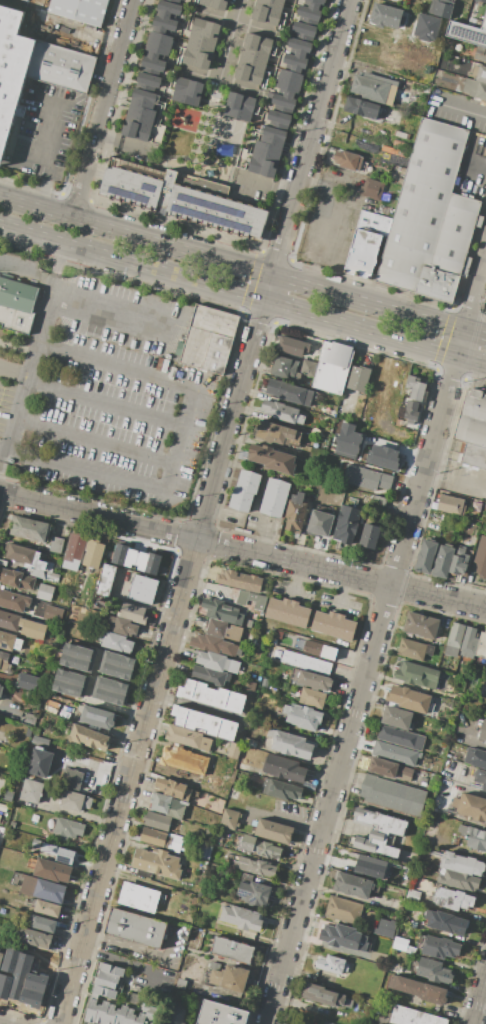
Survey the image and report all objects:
building: (26, 0)
building: (179, 0)
building: (400, 0)
building: (430, 0)
building: (173, 1)
building: (279, 1)
building: (480, 2)
building: (315, 3)
building: (214, 4)
building: (167, 9)
building: (440, 9)
building: (79, 11)
building: (267, 11)
building: (308, 15)
building: (386, 16)
road: (236, 22)
building: (163, 25)
building: (425, 27)
road: (72, 29)
building: (303, 31)
building: (204, 32)
building: (467, 32)
road: (231, 40)
building: (158, 45)
building: (257, 47)
building: (299, 47)
building: (479, 53)
building: (198, 55)
building: (295, 62)
building: (61, 66)
building: (152, 66)
building: (12, 70)
building: (250, 70)
building: (479, 73)
road: (220, 81)
building: (147, 82)
building: (288, 83)
building: (374, 87)
building: (475, 89)
building: (187, 91)
building: (282, 103)
building: (239, 106)
building: (360, 108)
road: (104, 109)
building: (140, 115)
building: (278, 119)
road: (79, 126)
road: (49, 141)
road: (125, 144)
building: (267, 152)
building: (347, 160)
road: (267, 185)
building: (371, 189)
road: (45, 194)
road: (75, 196)
building: (183, 201)
building: (431, 218)
road: (333, 220)
road: (199, 232)
building: (366, 243)
road: (295, 261)
road: (255, 265)
road: (243, 266)
road: (28, 268)
road: (242, 294)
building: (16, 305)
road: (108, 309)
road: (484, 311)
road: (448, 321)
building: (208, 338)
building: (292, 346)
road: (32, 361)
road: (118, 367)
building: (332, 367)
building: (285, 368)
building: (308, 368)
road: (14, 374)
building: (195, 375)
building: (357, 378)
building: (416, 389)
building: (289, 392)
parking lot: (106, 397)
road: (109, 403)
building: (282, 412)
building: (410, 412)
building: (472, 419)
building: (278, 434)
road: (187, 439)
road: (99, 441)
building: (345, 441)
road: (4, 445)
building: (474, 456)
building: (382, 457)
building: (272, 458)
road: (92, 468)
building: (365, 477)
road: (456, 482)
building: (244, 491)
building: (275, 497)
building: (450, 504)
road: (207, 512)
building: (295, 512)
building: (319, 523)
building: (346, 524)
building: (30, 529)
building: (369, 536)
building: (56, 544)
building: (75, 549)
road: (243, 550)
building: (93, 553)
building: (22, 555)
building: (426, 557)
building: (478, 558)
building: (135, 559)
building: (443, 562)
building: (459, 564)
building: (41, 565)
building: (52, 576)
building: (17, 579)
building: (105, 580)
building: (238, 580)
road: (294, 580)
building: (143, 589)
building: (45, 592)
road: (340, 592)
building: (252, 600)
building: (14, 601)
building: (221, 611)
building: (286, 612)
building: (52, 613)
building: (132, 613)
building: (9, 620)
building: (249, 623)
building: (334, 624)
building: (122, 625)
building: (420, 625)
building: (32, 629)
building: (223, 630)
building: (7, 640)
building: (454, 640)
building: (115, 641)
building: (469, 643)
building: (18, 644)
building: (212, 644)
road: (377, 645)
building: (481, 645)
building: (319, 649)
building: (412, 649)
building: (78, 657)
building: (4, 661)
building: (219, 661)
building: (304, 661)
building: (117, 664)
building: (38, 668)
building: (416, 674)
building: (211, 675)
road: (112, 677)
building: (26, 681)
building: (313, 681)
building: (70, 683)
building: (0, 685)
building: (1, 691)
building: (110, 691)
road: (88, 694)
building: (312, 698)
building: (407, 698)
building: (213, 699)
road: (6, 711)
building: (299, 716)
building: (97, 717)
building: (397, 717)
building: (205, 722)
building: (482, 731)
building: (89, 737)
building: (188, 737)
building: (401, 737)
road: (464, 740)
building: (250, 742)
building: (293, 746)
building: (234, 751)
building: (395, 752)
building: (475, 757)
building: (185, 758)
building: (40, 762)
road: (100, 769)
building: (286, 769)
building: (391, 769)
building: (480, 777)
building: (72, 779)
road: (451, 782)
building: (173, 789)
building: (32, 791)
building: (285, 791)
building: (8, 795)
building: (393, 795)
building: (75, 801)
building: (210, 803)
building: (470, 804)
building: (167, 805)
road: (282, 818)
building: (229, 819)
building: (157, 821)
building: (66, 829)
building: (273, 830)
building: (378, 831)
building: (472, 835)
building: (153, 837)
building: (37, 843)
building: (176, 843)
building: (262, 849)
building: (206, 851)
building: (59, 852)
building: (460, 862)
building: (156, 863)
building: (369, 865)
building: (256, 866)
building: (51, 870)
building: (458, 880)
building: (353, 885)
building: (43, 889)
building: (253, 893)
building: (411, 894)
building: (453, 899)
building: (138, 900)
building: (48, 908)
building: (347, 911)
building: (241, 918)
building: (445, 922)
building: (43, 923)
building: (384, 926)
building: (136, 928)
building: (194, 935)
building: (34, 937)
building: (346, 937)
building: (401, 945)
building: (439, 947)
road: (140, 949)
building: (233, 951)
building: (1, 957)
road: (130, 962)
building: (331, 963)
building: (110, 968)
building: (433, 970)
building: (107, 976)
building: (231, 977)
building: (104, 983)
building: (417, 989)
building: (104, 991)
road: (485, 993)
building: (328, 997)
road: (481, 1006)
building: (91, 1009)
building: (102, 1012)
building: (150, 1012)
building: (111, 1014)
building: (121, 1014)
building: (221, 1014)
building: (177, 1015)
building: (130, 1016)
building: (413, 1016)
building: (140, 1018)
building: (285, 1023)

